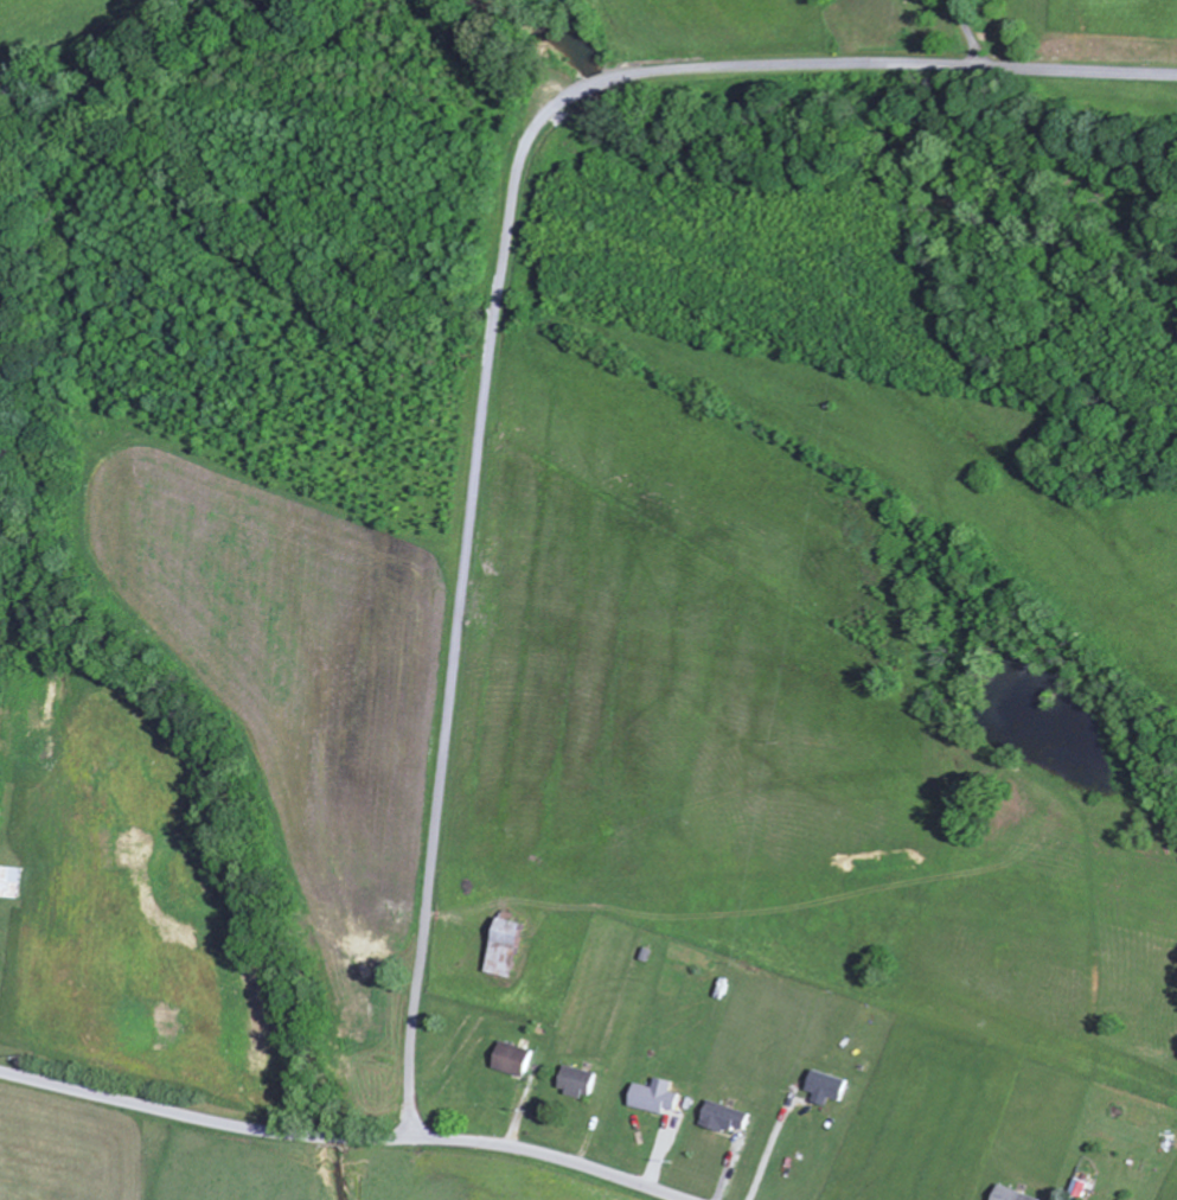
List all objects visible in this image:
road: (1003, 68)
road: (474, 477)
building: (516, 1058)
building: (581, 1080)
building: (830, 1086)
building: (660, 1096)
building: (728, 1116)
road: (231, 1125)
road: (580, 1164)
building: (1010, 1194)

